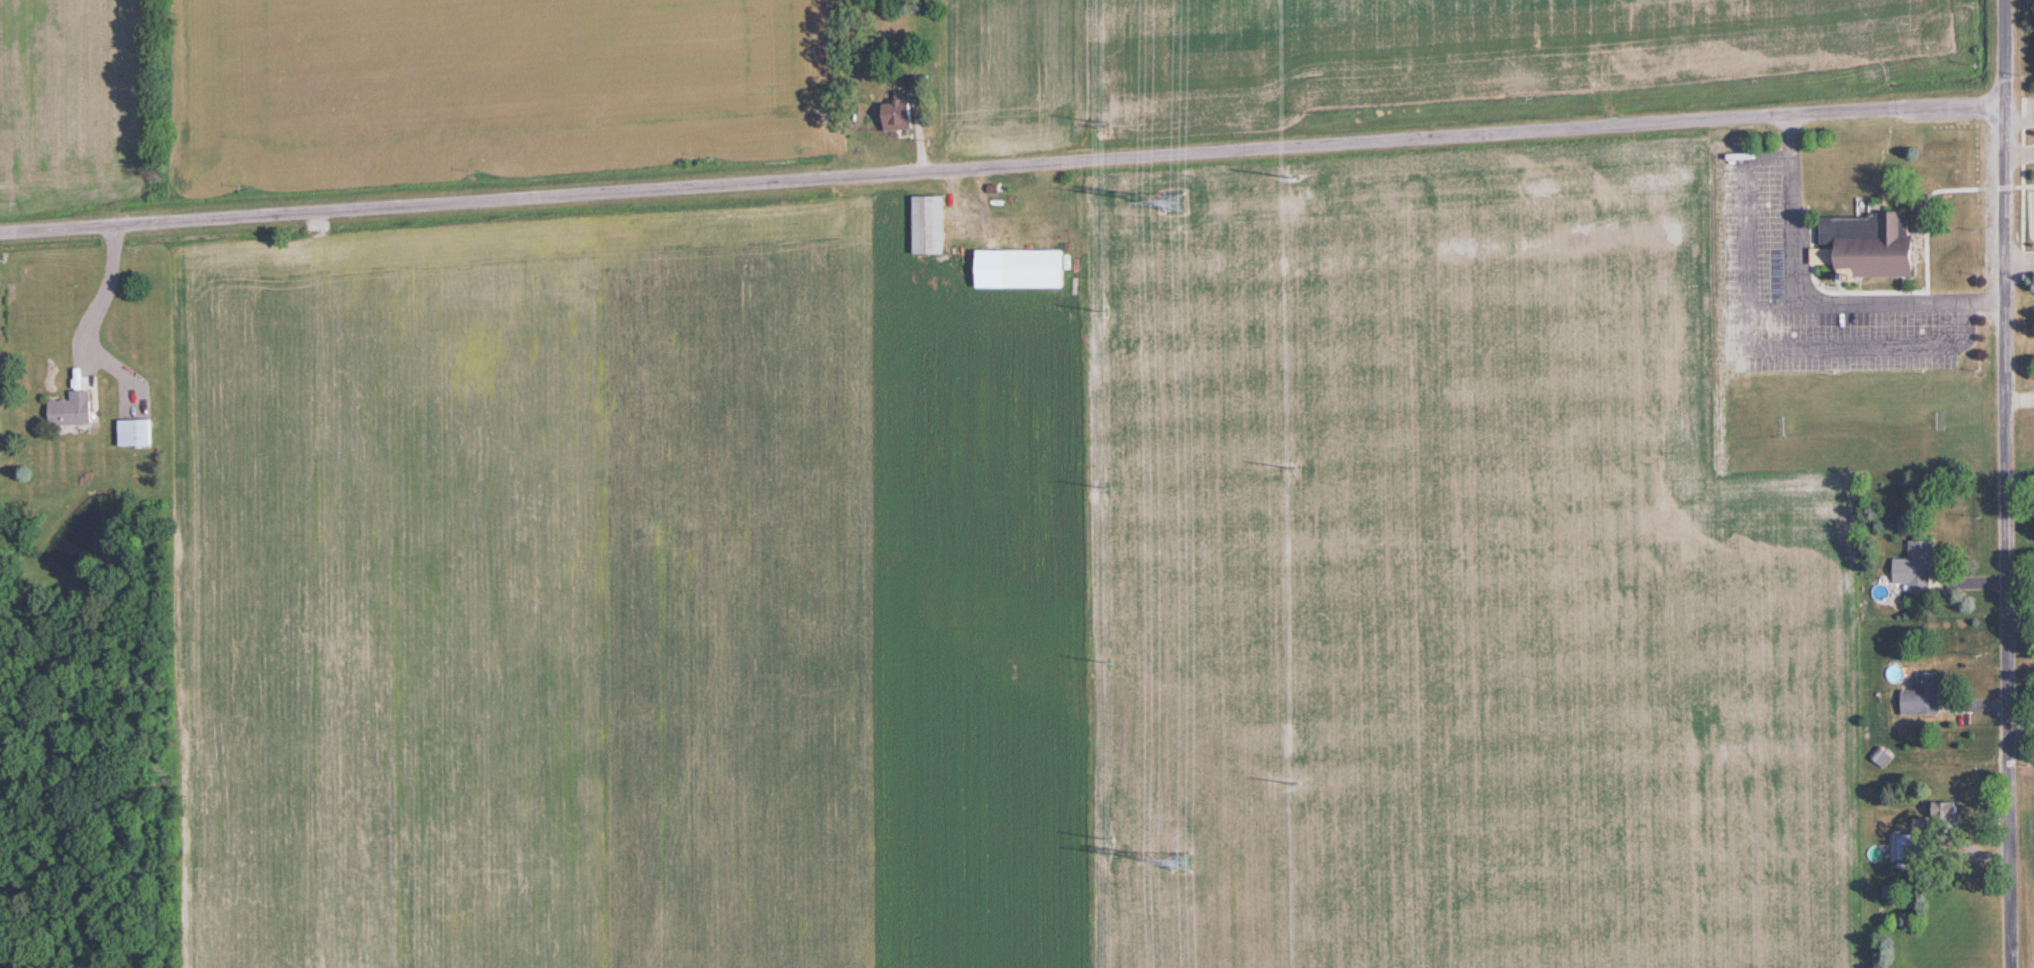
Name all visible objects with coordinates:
building: (904, 112)
road: (2013, 117)
power tower: (1106, 123)
road: (2013, 151)
road: (996, 168)
power tower: (1293, 175)
power tower: (1175, 202)
building: (933, 225)
building: (1867, 249)
road: (2014, 259)
building: (1040, 269)
road: (95, 294)
power tower: (1107, 311)
building: (74, 409)
building: (143, 433)
power tower: (1296, 467)
road: (1998, 484)
power tower: (1108, 488)
building: (1926, 567)
power tower: (1110, 662)
building: (1926, 695)
power tower: (1299, 783)
building: (1934, 829)
power tower: (1111, 838)
power tower: (1183, 863)

